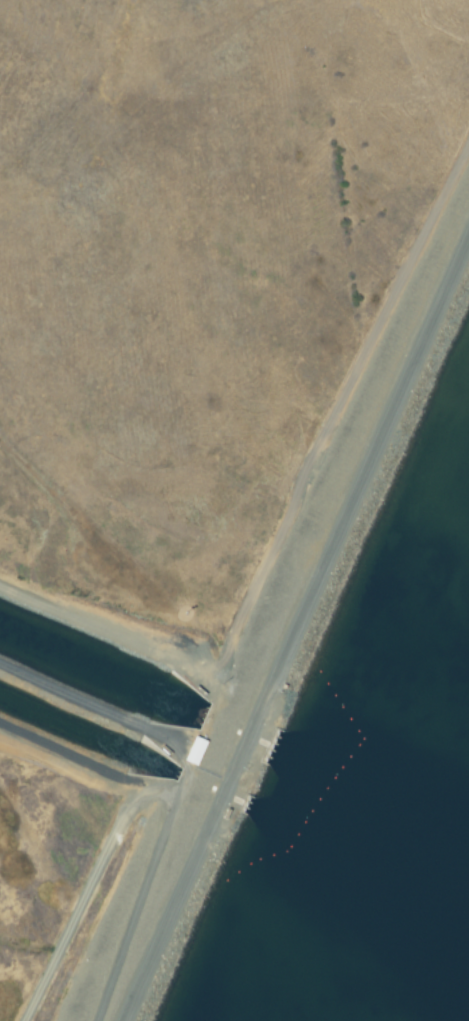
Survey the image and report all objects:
river: (103, 670)
building: (197, 750)

